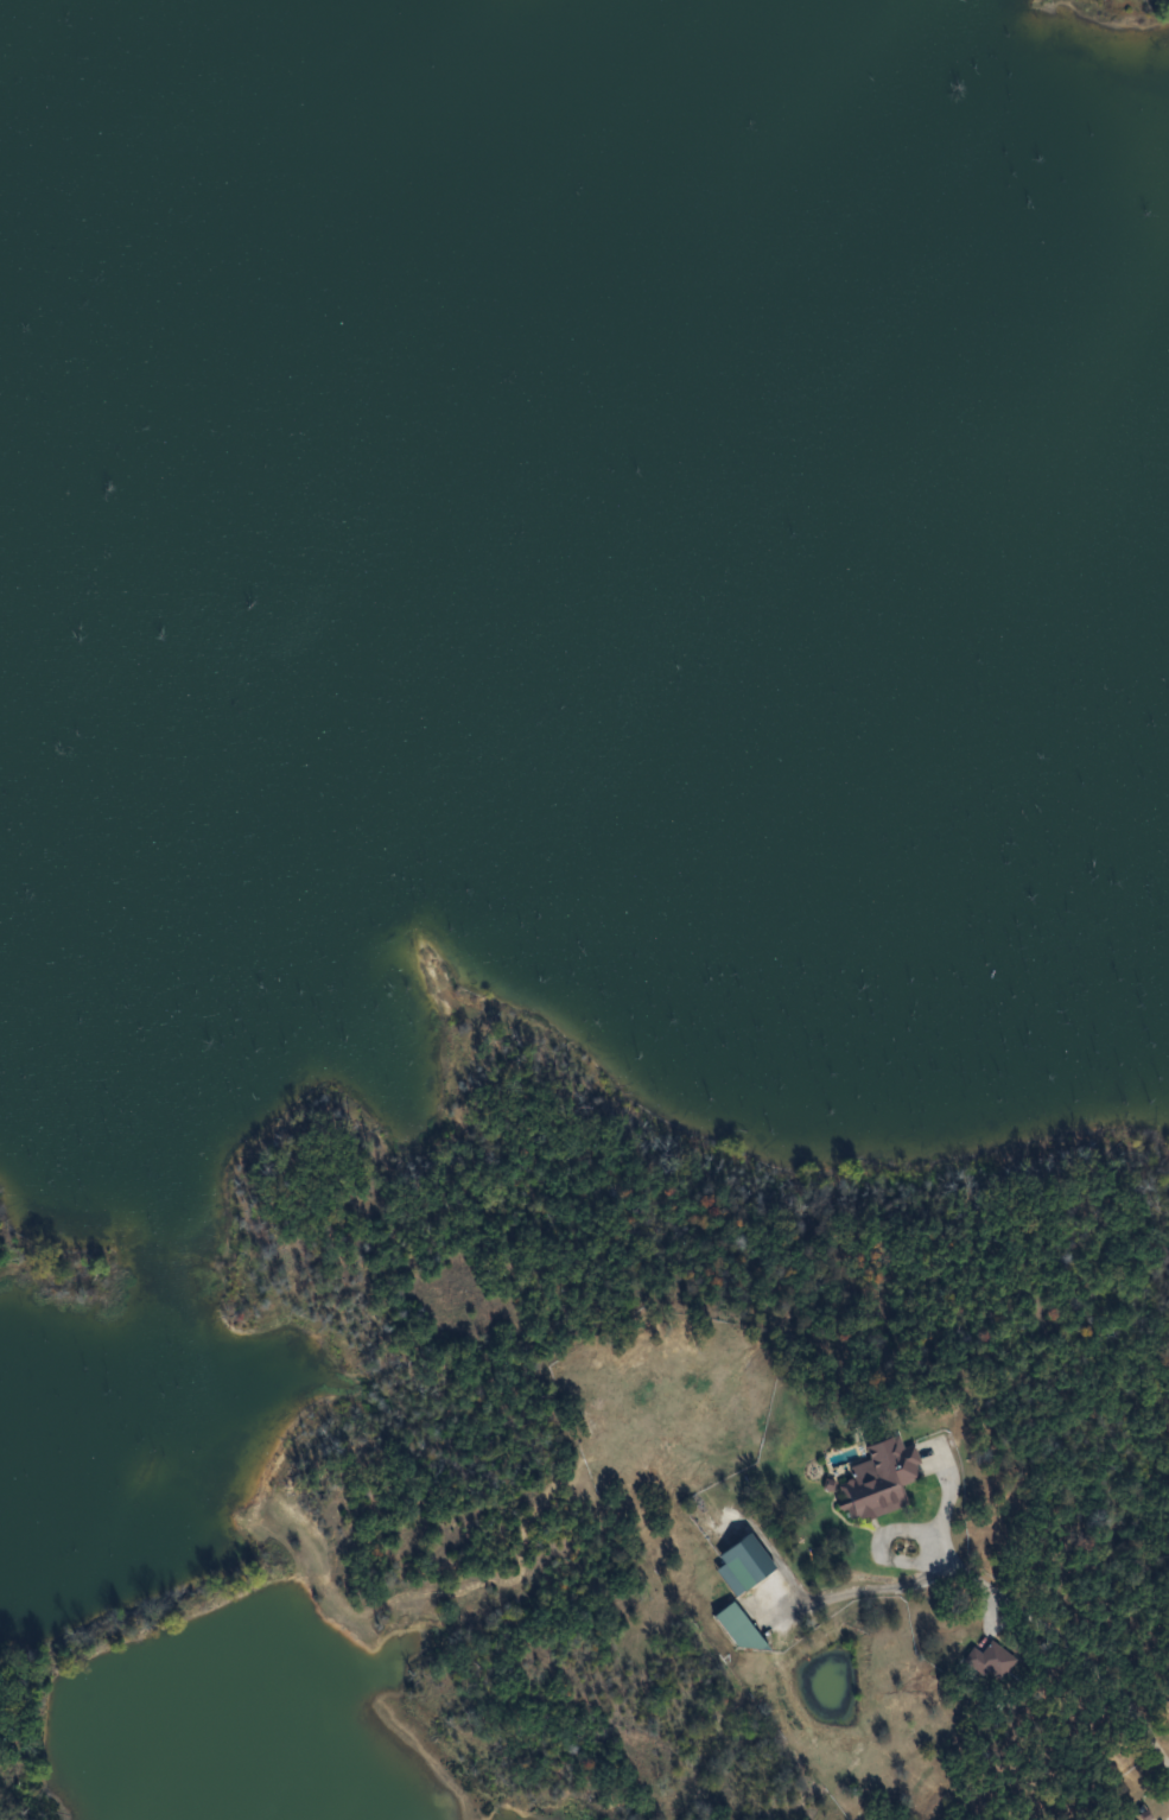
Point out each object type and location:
building: (877, 1479)
road: (879, 1539)
building: (743, 1568)
building: (735, 1628)
road: (1068, 1631)
building: (990, 1662)

